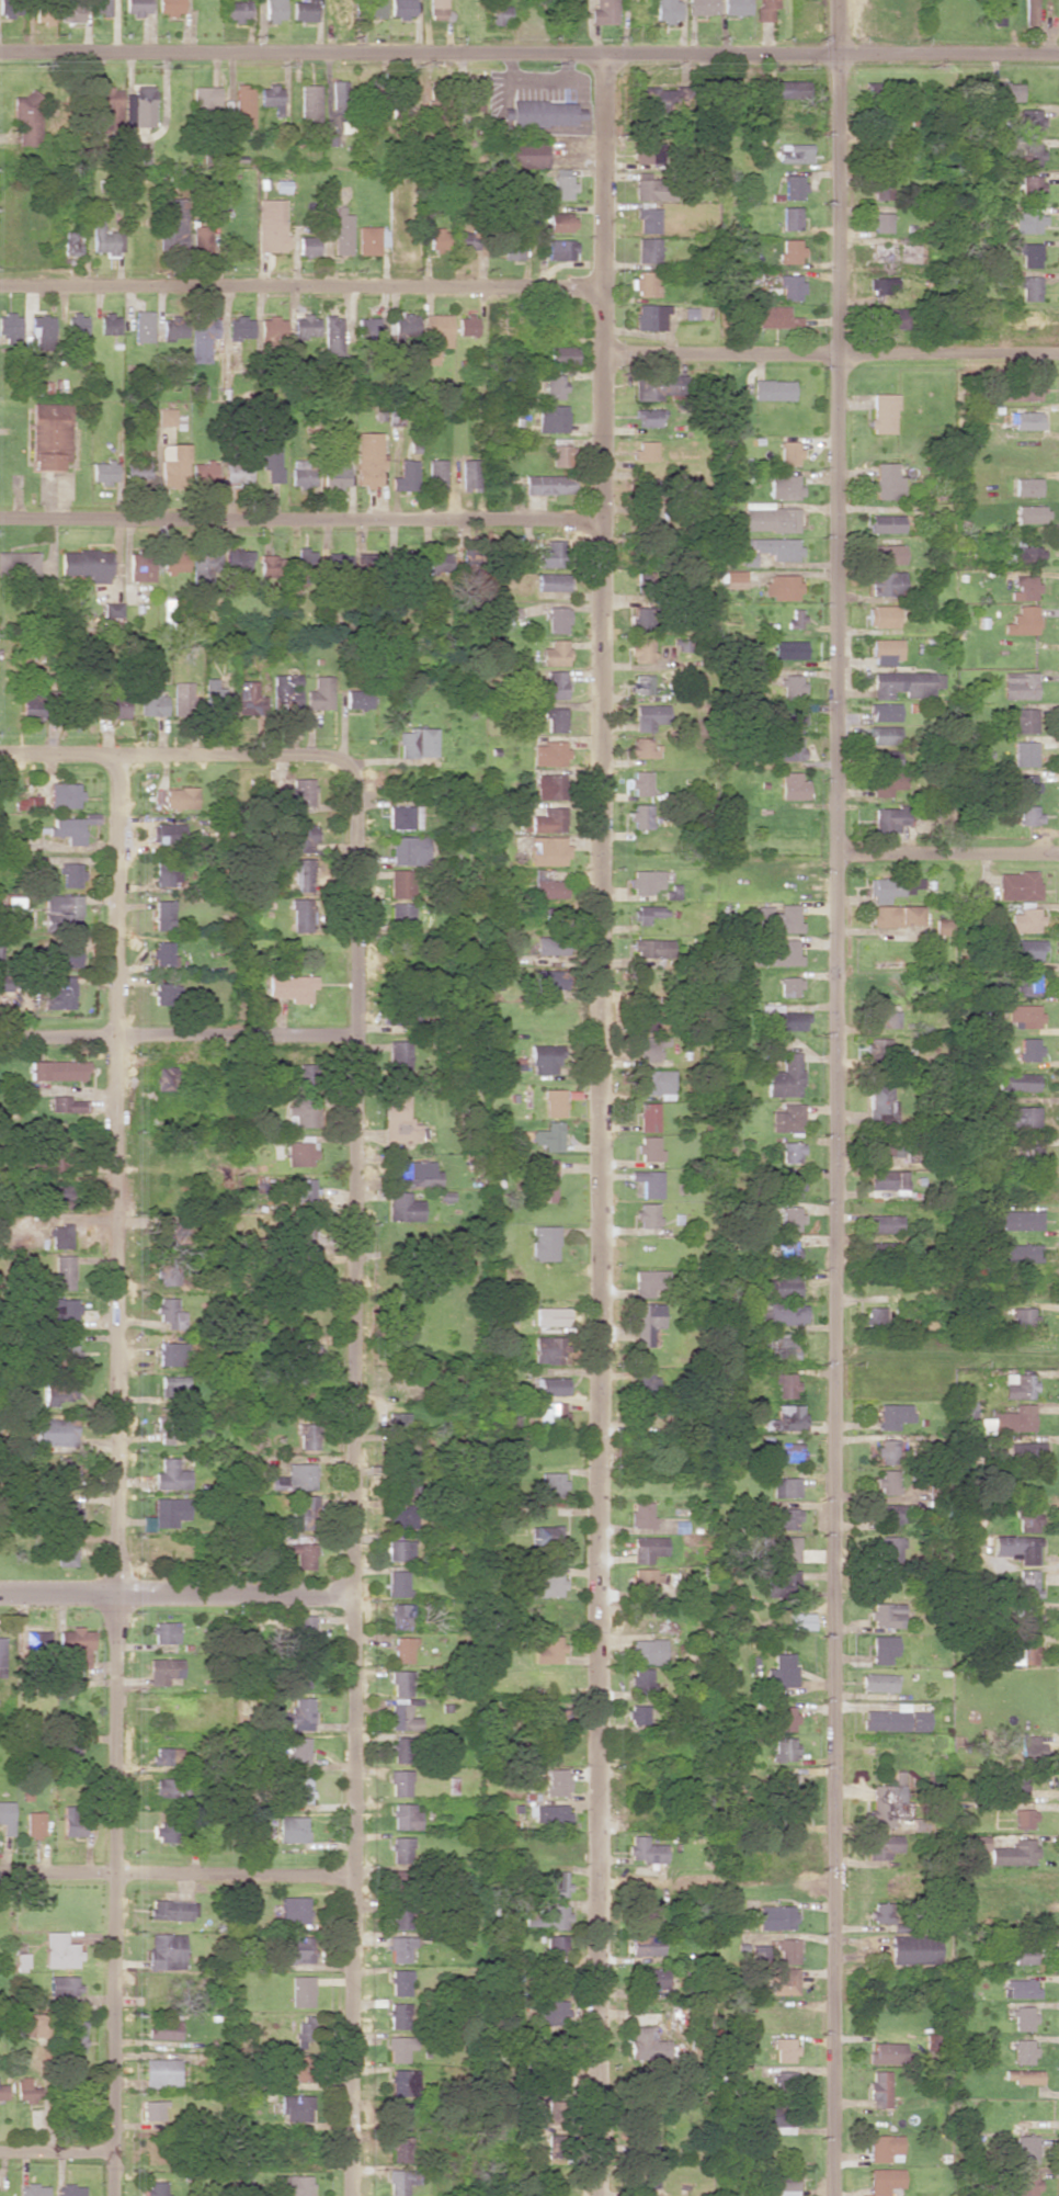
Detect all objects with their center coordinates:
building: (101, 7)
building: (137, 7)
building: (170, 7)
building: (701, 7)
building: (736, 7)
building: (375, 8)
building: (401, 8)
building: (8, 9)
building: (436, 9)
building: (766, 9)
building: (274, 10)
building: (304, 10)
building: (667, 10)
building: (236, 11)
building: (70, 12)
building: (499, 12)
building: (603, 12)
building: (999, 12)
building: (1030, 12)
road: (529, 56)
building: (785, 89)
building: (1009, 91)
building: (471, 94)
building: (338, 95)
building: (269, 97)
building: (204, 98)
building: (308, 102)
building: (435, 103)
building: (881, 103)
building: (138, 105)
building: (239, 107)
building: (542, 113)
building: (25, 118)
building: (1029, 121)
building: (644, 151)
building: (794, 152)
building: (524, 155)
building: (1027, 155)
road: (602, 173)
road: (839, 178)
building: (560, 184)
building: (880, 185)
building: (793, 186)
building: (1032, 188)
building: (650, 190)
building: (790, 218)
building: (647, 219)
building: (171, 220)
building: (558, 222)
building: (880, 222)
building: (1027, 223)
building: (271, 226)
building: (339, 228)
building: (104, 237)
building: (201, 239)
building: (371, 239)
building: (435, 239)
building: (465, 239)
building: (71, 242)
building: (307, 246)
building: (511, 249)
building: (560, 249)
building: (648, 250)
building: (789, 251)
building: (886, 252)
building: (1029, 254)
building: (645, 283)
building: (881, 284)
building: (789, 286)
building: (1029, 287)
road: (300, 291)
building: (650, 316)
building: (774, 317)
building: (896, 317)
road: (603, 321)
building: (1029, 321)
building: (76, 324)
building: (109, 324)
building: (403, 324)
building: (466, 325)
building: (143, 326)
building: (305, 326)
building: (239, 327)
building: (367, 327)
building: (10, 328)
building: (171, 328)
building: (272, 329)
building: (436, 329)
building: (39, 333)
building: (331, 335)
building: (202, 338)
building: (561, 354)
road: (721, 354)
road: (948, 355)
building: (554, 386)
building: (657, 386)
building: (773, 389)
building: (882, 412)
building: (166, 416)
building: (649, 417)
building: (551, 418)
building: (1027, 420)
building: (49, 435)
building: (645, 451)
building: (559, 452)
building: (788, 453)
building: (367, 459)
building: (271, 461)
building: (171, 464)
building: (136, 468)
building: (103, 472)
building: (203, 472)
building: (237, 472)
building: (301, 472)
building: (435, 473)
building: (335, 474)
building: (469, 475)
building: (405, 476)
building: (887, 480)
building: (547, 484)
building: (646, 485)
building: (784, 486)
building: (1027, 486)
building: (1030, 513)
building: (768, 518)
road: (300, 522)
building: (886, 523)
building: (777, 548)
building: (550, 554)
building: (886, 554)
building: (1026, 555)
building: (748, 558)
building: (466, 561)
building: (170, 562)
building: (236, 562)
building: (437, 562)
building: (18, 563)
building: (367, 563)
building: (86, 564)
building: (202, 565)
building: (267, 565)
building: (305, 565)
building: (337, 565)
building: (139, 566)
building: (644, 578)
building: (732, 579)
building: (553, 581)
building: (882, 582)
building: (781, 586)
building: (1023, 588)
building: (110, 609)
building: (880, 616)
road: (361, 619)
building: (557, 619)
building: (642, 619)
building: (795, 619)
building: (1021, 621)
building: (641, 649)
building: (787, 649)
building: (885, 650)
building: (555, 653)
building: (641, 683)
building: (900, 683)
building: (554, 684)
building: (1018, 686)
building: (792, 687)
building: (285, 692)
building: (320, 693)
building: (150, 694)
building: (248, 694)
building: (216, 698)
building: (181, 699)
building: (357, 699)
building: (33, 703)
building: (114, 705)
building: (885, 712)
building: (649, 716)
building: (555, 718)
building: (1020, 718)
building: (790, 720)
building: (885, 735)
building: (415, 743)
building: (642, 748)
building: (783, 749)
road: (57, 751)
building: (549, 754)
building: (1024, 754)
building: (886, 758)
building: (640, 782)
building: (886, 782)
building: (792, 785)
building: (550, 786)
building: (1025, 786)
building: (299, 792)
building: (62, 795)
building: (179, 797)
building: (27, 802)
building: (924, 810)
building: (1028, 814)
building: (403, 816)
building: (640, 816)
building: (890, 818)
building: (549, 819)
building: (66, 829)
building: (166, 834)
building: (298, 837)
building: (408, 850)
building: (548, 850)
road: (949, 853)
building: (69, 874)
building: (166, 874)
building: (301, 874)
building: (645, 881)
building: (401, 883)
building: (544, 883)
building: (1017, 885)
building: (892, 887)
building: (671, 893)
building: (10, 904)
building: (61, 910)
building: (646, 913)
building: (162, 915)
building: (300, 915)
building: (896, 915)
building: (401, 916)
building: (775, 918)
building: (1024, 920)
building: (944, 926)
building: (546, 944)
building: (648, 947)
building: (1026, 949)
building: (0, 951)
building: (777, 952)
building: (162, 953)
building: (61, 955)
building: (548, 978)
building: (4, 983)
building: (1026, 983)
building: (789, 986)
building: (291, 987)
building: (58, 992)
building: (163, 993)
building: (1024, 1015)
building: (648, 1016)
building: (882, 1016)
building: (784, 1018)
road: (176, 1040)
building: (650, 1046)
building: (877, 1049)
building: (1027, 1049)
building: (545, 1059)
building: (397, 1060)
building: (57, 1069)
building: (306, 1075)
building: (784, 1077)
building: (1018, 1082)
building: (656, 1083)
building: (879, 1101)
building: (554, 1102)
building: (65, 1103)
building: (300, 1112)
building: (1013, 1116)
building: (648, 1117)
building: (785, 1118)
building: (398, 1119)
building: (548, 1136)
building: (648, 1147)
building: (884, 1147)
building: (790, 1152)
building: (298, 1153)
building: (50, 1154)
building: (1028, 1154)
building: (415, 1174)
building: (543, 1179)
building: (887, 1179)
building: (647, 1182)
building: (787, 1185)
building: (298, 1188)
building: (55, 1196)
building: (402, 1207)
building: (647, 1214)
building: (789, 1218)
building: (1018, 1220)
building: (884, 1223)
building: (168, 1233)
building: (543, 1243)
building: (786, 1252)
building: (882, 1253)
building: (1017, 1253)
building: (167, 1270)
building: (64, 1272)
road: (599, 1274)
road: (836, 1276)
building: (649, 1282)
building: (782, 1286)
building: (60, 1309)
building: (168, 1313)
building: (784, 1313)
building: (550, 1316)
building: (874, 1316)
building: (1023, 1318)
building: (647, 1323)
building: (772, 1346)
building: (548, 1349)
building: (170, 1354)
road: (947, 1354)
building: (62, 1355)
road: (354, 1359)
building: (642, 1377)
building: (171, 1383)
building: (785, 1384)
building: (549, 1385)
building: (1018, 1385)
building: (57, 1391)
building: (892, 1415)
building: (550, 1416)
building: (785, 1418)
building: (1015, 1418)
building: (398, 1420)
building: (54, 1431)
building: (308, 1436)
building: (789, 1451)
building: (887, 1451)
building: (1027, 1452)
building: (64, 1471)
road: (117, 1473)
building: (170, 1475)
building: (299, 1475)
building: (553, 1482)
building: (887, 1482)
building: (406, 1484)
building: (786, 1486)
building: (62, 1512)
building: (169, 1512)
building: (892, 1514)
building: (300, 1515)
building: (641, 1515)
building: (400, 1516)
building: (784, 1518)
building: (1027, 1519)
building: (546, 1536)
building: (783, 1547)
building: (1015, 1547)
building: (649, 1548)
building: (888, 1548)
building: (399, 1550)
building: (65, 1553)
building: (301, 1555)
building: (647, 1581)
building: (398, 1583)
building: (1027, 1583)
building: (544, 1584)
building: (783, 1584)
road: (176, 1596)
building: (401, 1609)
building: (886, 1615)
building: (1026, 1618)
building: (800, 1620)
building: (304, 1628)
building: (164, 1632)
building: (76, 1646)
building: (882, 1649)
building: (403, 1650)
building: (548, 1650)
building: (648, 1651)
building: (1024, 1651)
building: (1, 1657)
building: (163, 1671)
building: (781, 1671)
building: (299, 1673)
building: (640, 1680)
building: (878, 1682)
building: (401, 1683)
building: (637, 1714)
building: (297, 1716)
building: (402, 1716)
building: (551, 1717)
building: (781, 1718)
building: (896, 1719)
building: (784, 1748)
building: (1028, 1748)
building: (298, 1750)
building: (400, 1750)
building: (169, 1766)
building: (650, 1767)
building: (782, 1780)
building: (400, 1782)
building: (1017, 1784)
building: (295, 1789)
building: (888, 1801)
building: (405, 1815)
building: (553, 1815)
building: (5, 1818)
building: (1023, 1818)
building: (72, 1820)
building: (33, 1824)
building: (292, 1829)
building: (163, 1831)
building: (976, 1843)
building: (881, 1846)
building: (400, 1848)
building: (644, 1849)
building: (1013, 1853)
road: (178, 1874)
building: (397, 1876)
building: (556, 1882)
road: (1016, 1882)
building: (293, 1909)
building: (172, 1910)
building: (879, 1912)
building: (400, 1915)
building: (553, 1917)
building: (647, 1917)
building: (775, 1917)
building: (554, 1945)
building: (645, 1945)
building: (399, 1948)
building: (298, 1949)
building: (913, 1949)
building: (60, 1950)
building: (166, 1951)
building: (787, 1951)
building: (1023, 1954)
building: (556, 1979)
building: (651, 1979)
building: (784, 1980)
building: (400, 1982)
building: (64, 1984)
building: (1021, 1988)
building: (301, 1991)
building: (553, 2012)
building: (398, 2015)
building: (1022, 2018)
building: (25, 2025)
building: (163, 2028)
building: (304, 2031)
building: (78, 2036)
building: (648, 2041)
building: (555, 2042)
building: (399, 2049)
building: (784, 2049)
building: (1022, 2051)
building: (886, 2052)
building: (301, 2068)
building: (161, 2073)
building: (1021, 2076)
building: (402, 2082)
building: (783, 2085)
building: (879, 2089)
building: (27, 2091)
building: (2, 2092)
building: (295, 2107)
building: (155, 2109)
building: (551, 2109)
building: (399, 2115)
building: (778, 2115)
building: (644, 2130)
building: (553, 2144)
building: (884, 2148)
building: (401, 2149)
building: (1022, 2150)
road: (57, 2151)
building: (648, 2177)
building: (400, 2181)
building: (884, 2181)
building: (1023, 2183)
building: (781, 2184)
building: (156, 2188)
building: (34, 2189)
building: (70, 2189)

